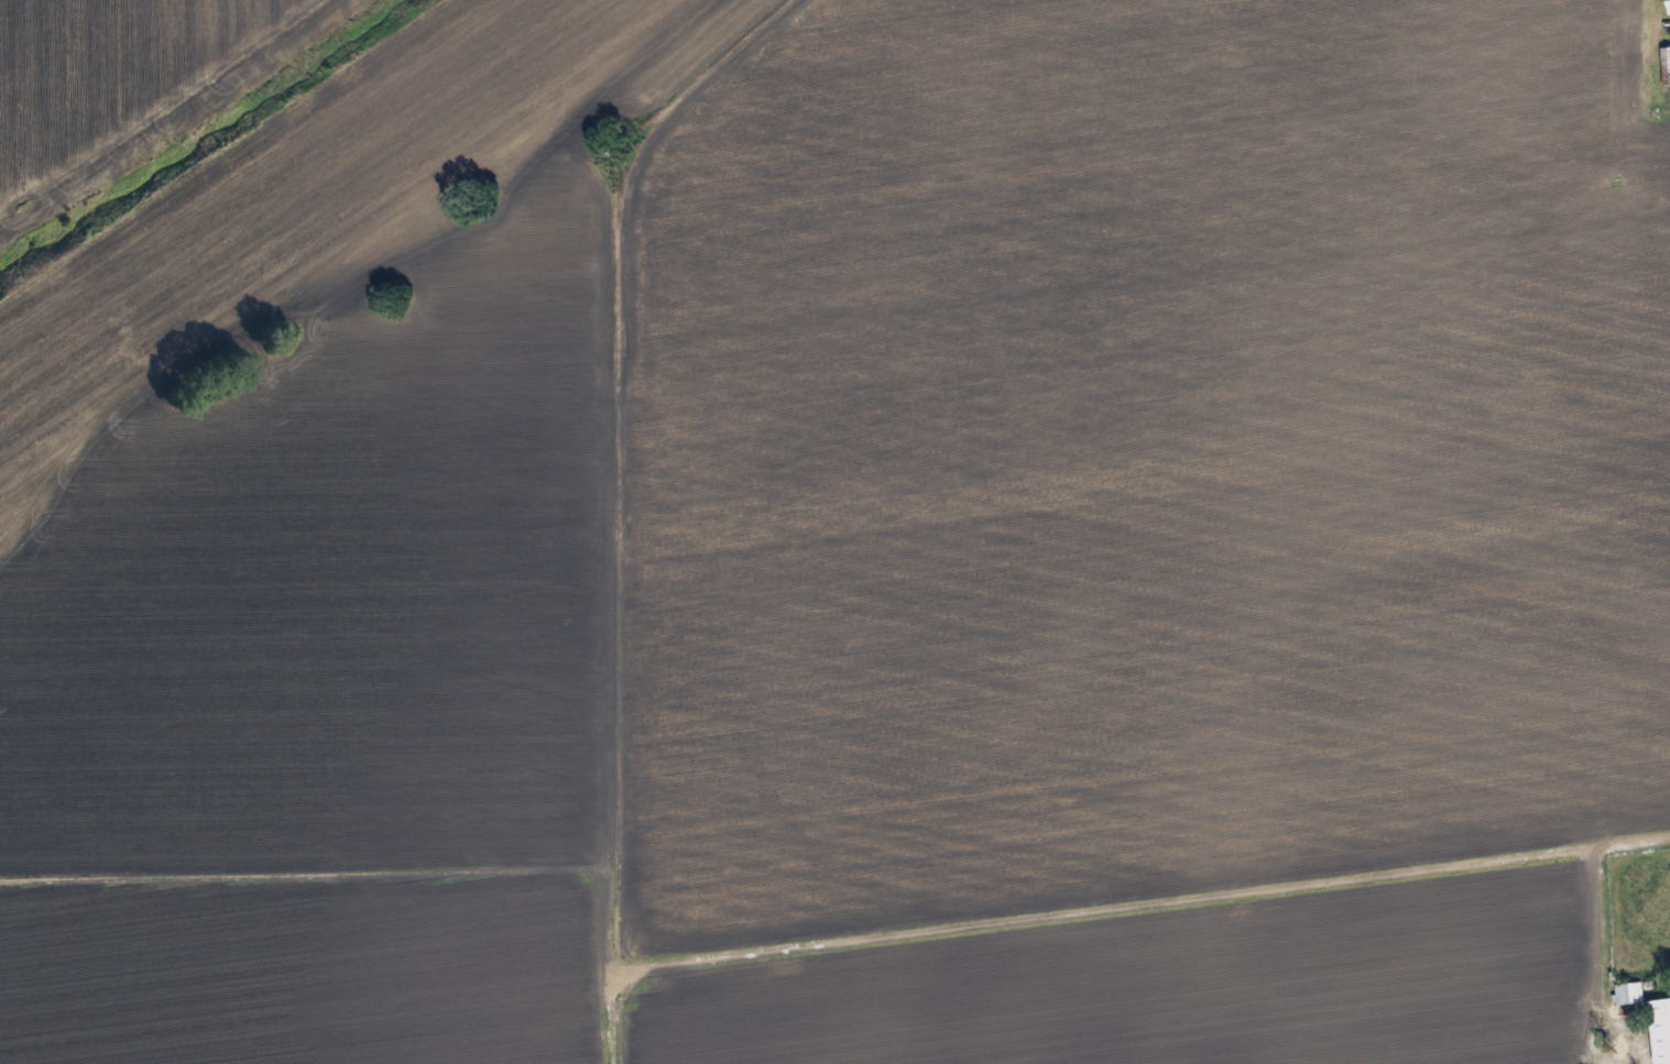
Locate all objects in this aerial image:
building: (1669, 3)
building: (1637, 995)
building: (1661, 1031)

